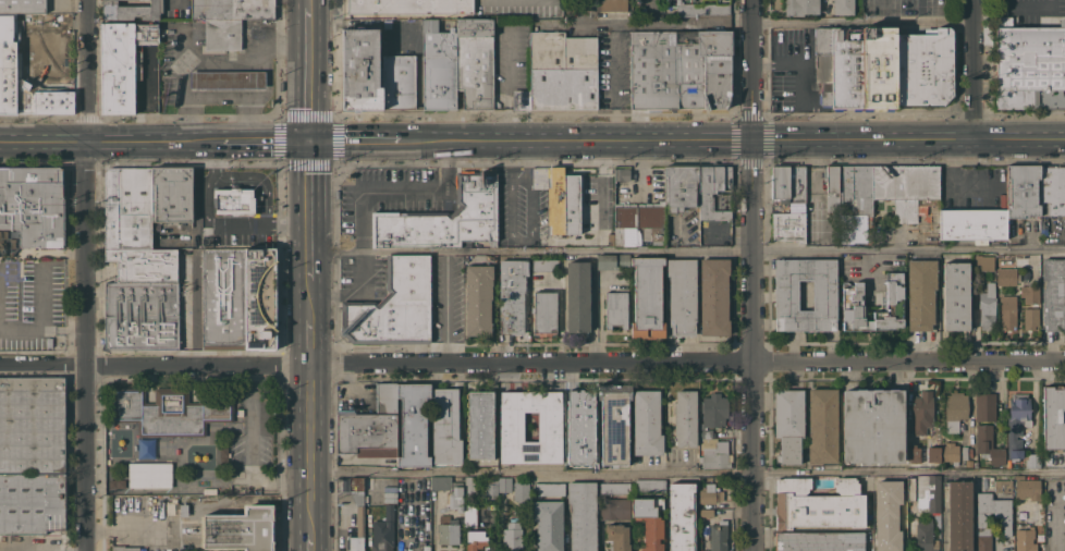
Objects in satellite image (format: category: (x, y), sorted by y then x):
building: (575, 1)
building: (645, 2)
road: (310, 3)
building: (611, 4)
building: (409, 5)
building: (800, 7)
building: (843, 7)
building: (701, 8)
building: (232, 9)
building: (131, 10)
road: (682, 20)
road: (864, 22)
road: (53, 27)
building: (222, 34)
road: (264, 44)
road: (196, 58)
building: (121, 62)
building: (475, 62)
gas station: (216, 63)
building: (823, 64)
building: (1030, 65)
building: (24, 68)
building: (439, 68)
building: (923, 68)
building: (680, 69)
road: (754, 69)
building: (862, 69)
road: (976, 69)
building: (360, 70)
building: (562, 71)
road: (309, 73)
road: (809, 73)
building: (228, 79)
road: (247, 79)
road: (613, 79)
building: (399, 83)
road: (247, 93)
road: (217, 98)
building: (521, 99)
road: (908, 138)
traffic signals: (754, 139)
road: (268, 140)
traffic signals: (309, 140)
road: (356, 140)
road: (578, 140)
road: (113, 142)
road: (641, 164)
building: (622, 174)
road: (195, 175)
road: (815, 177)
road: (256, 180)
building: (787, 184)
building: (680, 187)
building: (832, 188)
road: (396, 189)
building: (713, 191)
building: (908, 191)
building: (1052, 191)
building: (855, 192)
building: (1023, 192)
building: (234, 200)
building: (562, 201)
building: (33, 206)
road: (309, 210)
building: (443, 218)
road: (217, 222)
building: (972, 223)
building: (638, 224)
building: (788, 225)
road: (686, 249)
building: (142, 256)
building: (613, 261)
building: (983, 262)
building: (544, 265)
building: (446, 269)
building: (1009, 270)
road: (870, 271)
road: (85, 274)
building: (920, 293)
building: (1054, 293)
road: (354, 294)
building: (824, 294)
building: (512, 295)
building: (852, 295)
building: (577, 296)
building: (682, 296)
building: (955, 296)
building: (647, 297)
building: (713, 297)
building: (238, 298)
road: (309, 299)
building: (478, 299)
building: (392, 305)
building: (1036, 306)
building: (987, 307)
road: (195, 309)
building: (444, 309)
building: (616, 309)
building: (1007, 311)
building: (544, 313)
road: (309, 342)
road: (755, 344)
road: (531, 362)
building: (385, 397)
building: (986, 407)
building: (171, 409)
building: (955, 409)
building: (921, 412)
building: (712, 413)
building: (685, 417)
building: (1054, 417)
building: (614, 421)
building: (647, 423)
building: (1017, 423)
building: (32, 424)
building: (413, 424)
building: (479, 424)
building: (788, 424)
building: (511, 426)
building: (580, 426)
building: (822, 426)
building: (872, 426)
building: (445, 428)
building: (366, 434)
building: (700, 439)
building: (988, 445)
road: (252, 449)
building: (950, 452)
building: (964, 452)
building: (714, 453)
building: (913, 454)
building: (933, 454)
road: (309, 457)
building: (1032, 460)
road: (909, 469)
road: (531, 472)
building: (149, 475)
building: (1018, 476)
building: (356, 482)
building: (115, 483)
building: (504, 483)
building: (649, 485)
building: (469, 486)
building: (1003, 486)
building: (489, 488)
building: (549, 488)
building: (614, 488)
building: (910, 488)
building: (1027, 489)
building: (449, 490)
building: (206, 491)
building: (521, 491)
building: (711, 492)
building: (928, 492)
building: (357, 497)
building: (817, 503)
building: (32, 505)
building: (614, 509)
building: (183, 510)
road: (1057, 511)
building: (706, 513)
building: (886, 514)
building: (470, 515)
building: (582, 515)
building: (958, 515)
building: (1021, 515)
building: (681, 516)
building: (649, 521)
building: (1004, 521)
building: (548, 525)
building: (240, 529)
power substation: (240, 529)
building: (446, 529)
building: (383, 530)
building: (358, 531)
building: (1030, 535)
building: (512, 536)
building: (617, 536)
building: (713, 536)
building: (925, 536)
building: (475, 539)
building: (819, 541)
building: (124, 548)

